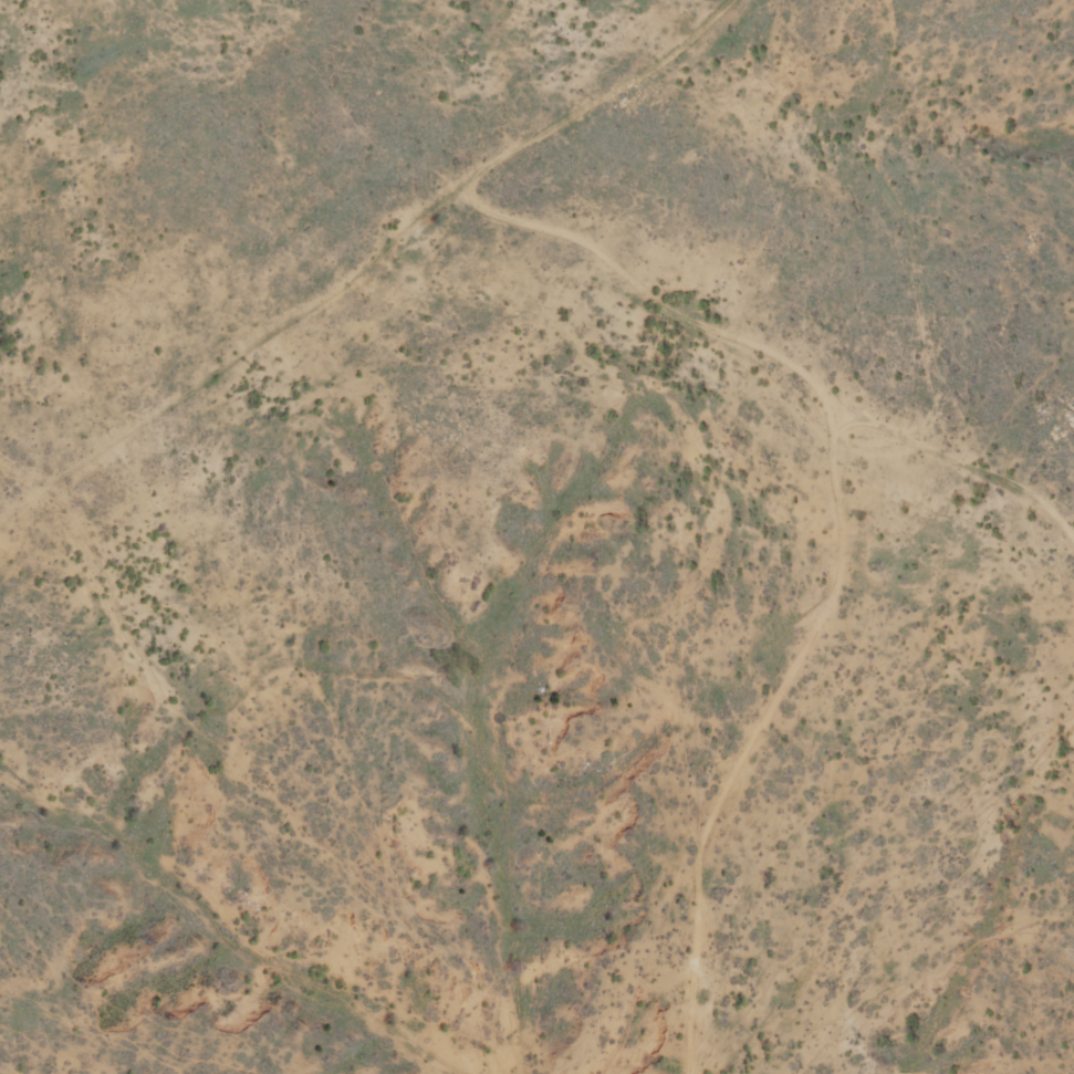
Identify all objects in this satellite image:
road: (363, 273)

